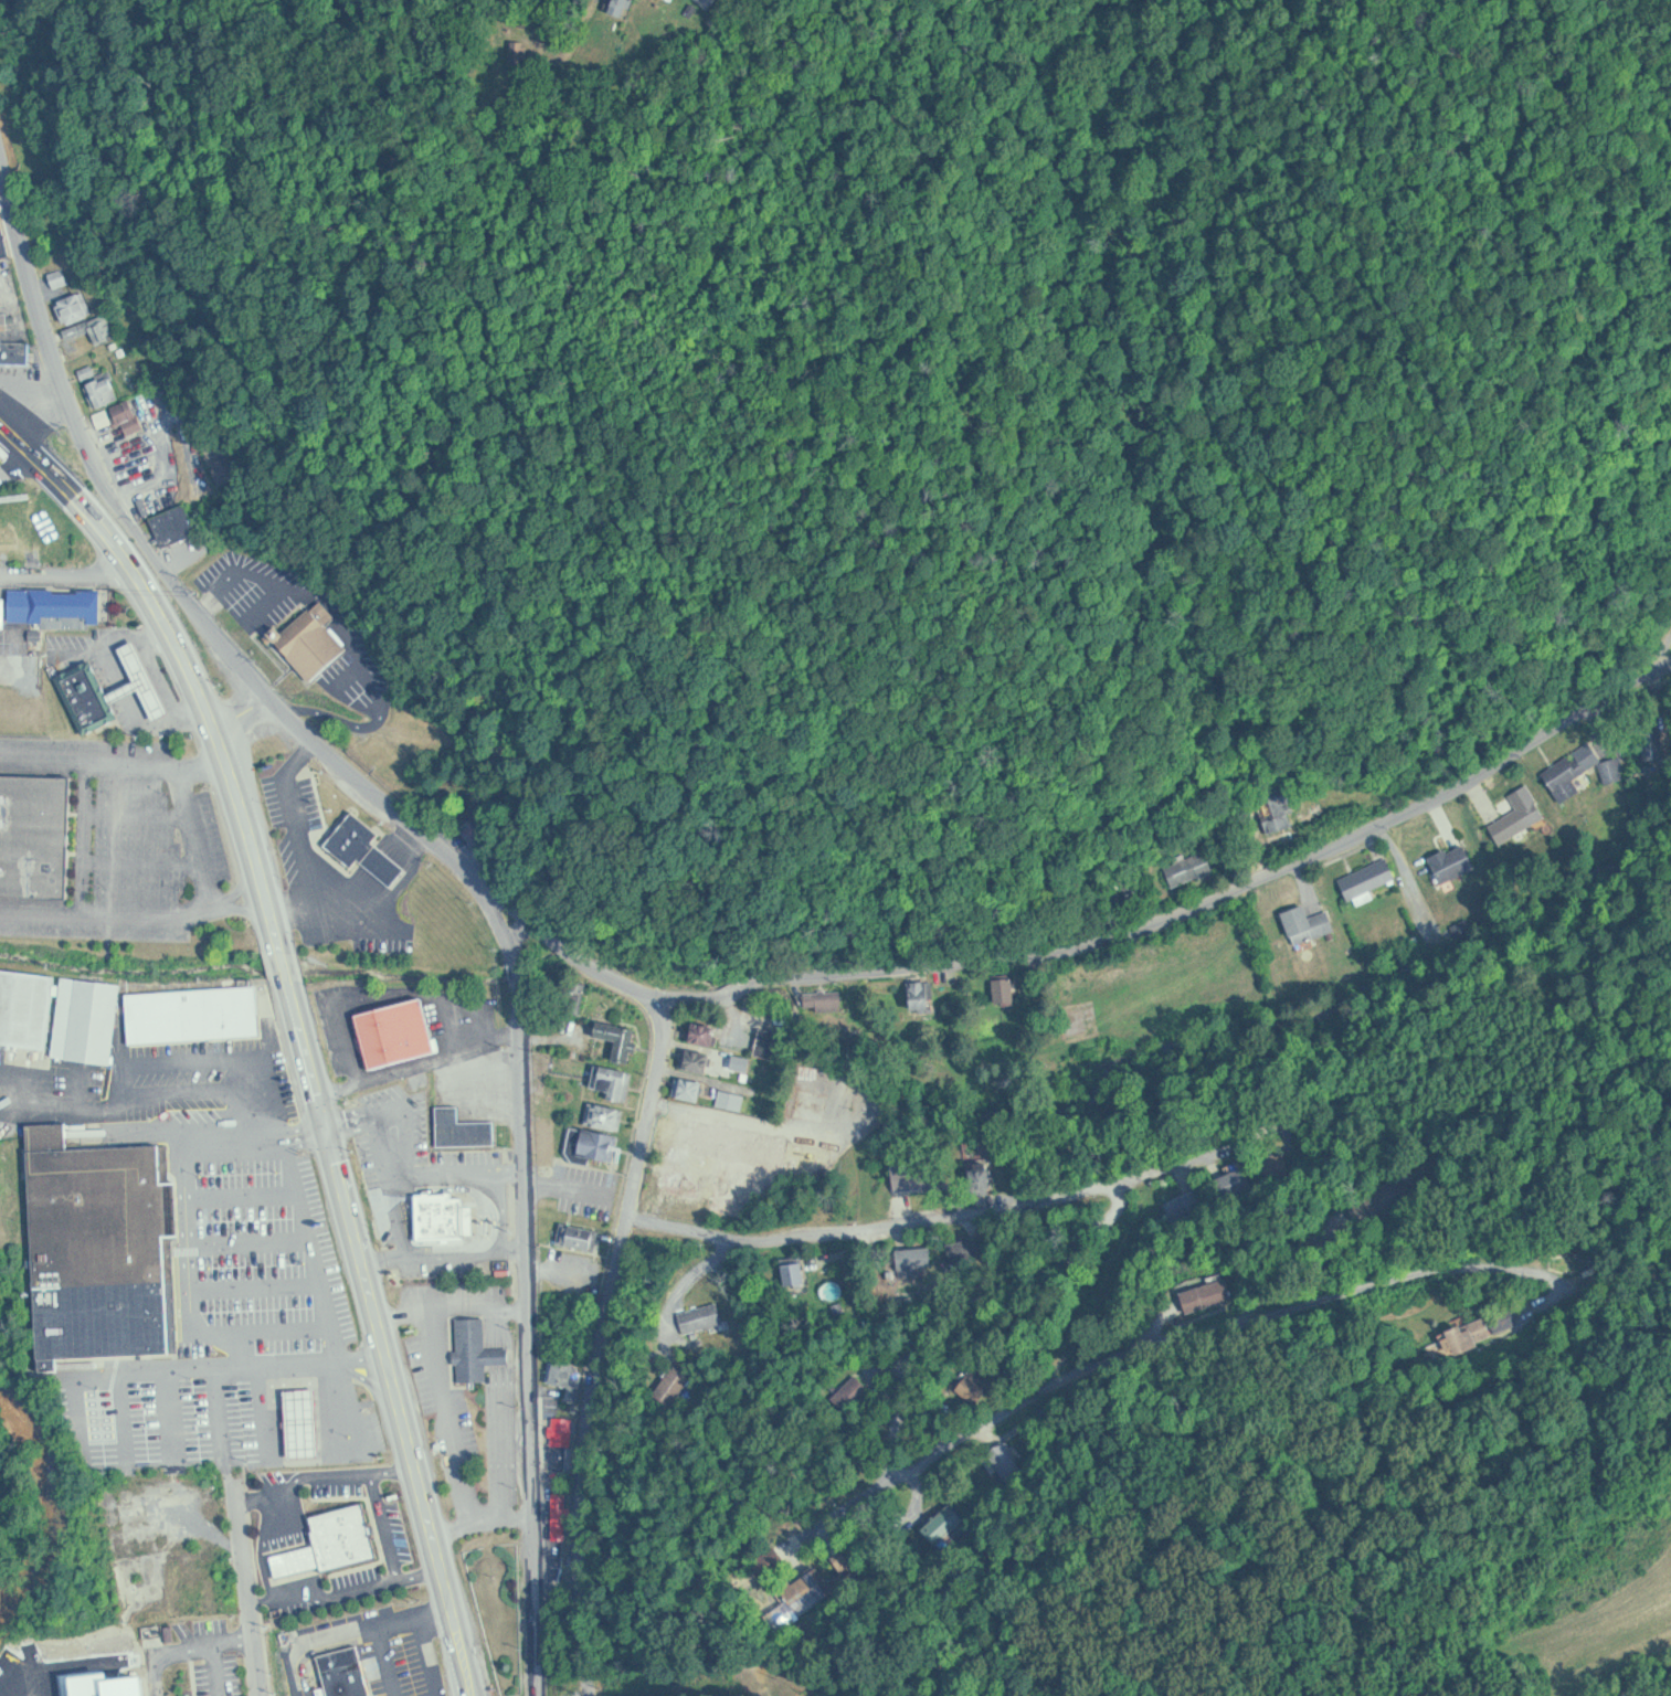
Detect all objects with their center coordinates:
building: (710, 2)
building: (623, 7)
road: (477, 73)
building: (63, 278)
building: (77, 307)
building: (97, 329)
building: (17, 348)
building: (106, 390)
building: (130, 416)
building: (141, 464)
building: (174, 529)
road: (70, 580)
road: (186, 602)
building: (68, 605)
parking lot: (14, 629)
building: (313, 648)
road: (190, 669)
building: (116, 682)
gas station: (116, 682)
road: (246, 717)
building: (1563, 776)
building: (1283, 809)
road: (1447, 814)
building: (1514, 816)
building: (35, 831)
parking lot: (113, 839)
road: (1389, 845)
building: (364, 851)
building: (1446, 861)
building: (1193, 868)
road: (1308, 876)
building: (1363, 880)
road: (1239, 890)
building: (1303, 924)
road: (504, 925)
road: (547, 940)
road: (518, 972)
road: (289, 973)
road: (607, 976)
road: (743, 989)
building: (1007, 992)
building: (923, 995)
building: (28, 1001)
road: (692, 1004)
road: (522, 1009)
building: (92, 1011)
building: (198, 1014)
building: (398, 1032)
building: (707, 1032)
building: (621, 1038)
building: (770, 1043)
building: (700, 1060)
road: (423, 1068)
road: (700, 1074)
building: (615, 1081)
building: (691, 1088)
building: (733, 1100)
building: (607, 1116)
road: (749, 1119)
road: (356, 1124)
road: (410, 1127)
building: (465, 1128)
traffic signals: (331, 1132)
road: (261, 1138)
building: (596, 1146)
building: (741, 1160)
building: (981, 1165)
road: (461, 1173)
building: (917, 1175)
building: (443, 1213)
road: (885, 1228)
building: (582, 1237)
building: (109, 1244)
park: (14, 1254)
road: (430, 1254)
building: (918, 1257)
road: (698, 1271)
building: (797, 1273)
building: (706, 1318)
road: (1156, 1323)
road: (383, 1337)
building: (479, 1348)
road: (604, 1348)
road: (926, 1349)
road: (532, 1366)
building: (571, 1376)
building: (675, 1385)
building: (855, 1392)
building: (308, 1410)
gas station: (308, 1410)
road: (343, 1474)
road: (262, 1499)
river: (55, 1502)
road: (292, 1517)
road: (388, 1527)
building: (338, 1530)
road: (299, 1549)
road: (306, 1576)
road: (248, 1586)
road: (377, 1588)
road: (279, 1598)
road: (219, 1652)
road: (174, 1655)
building: (351, 1660)
parking lot: (221, 1676)

